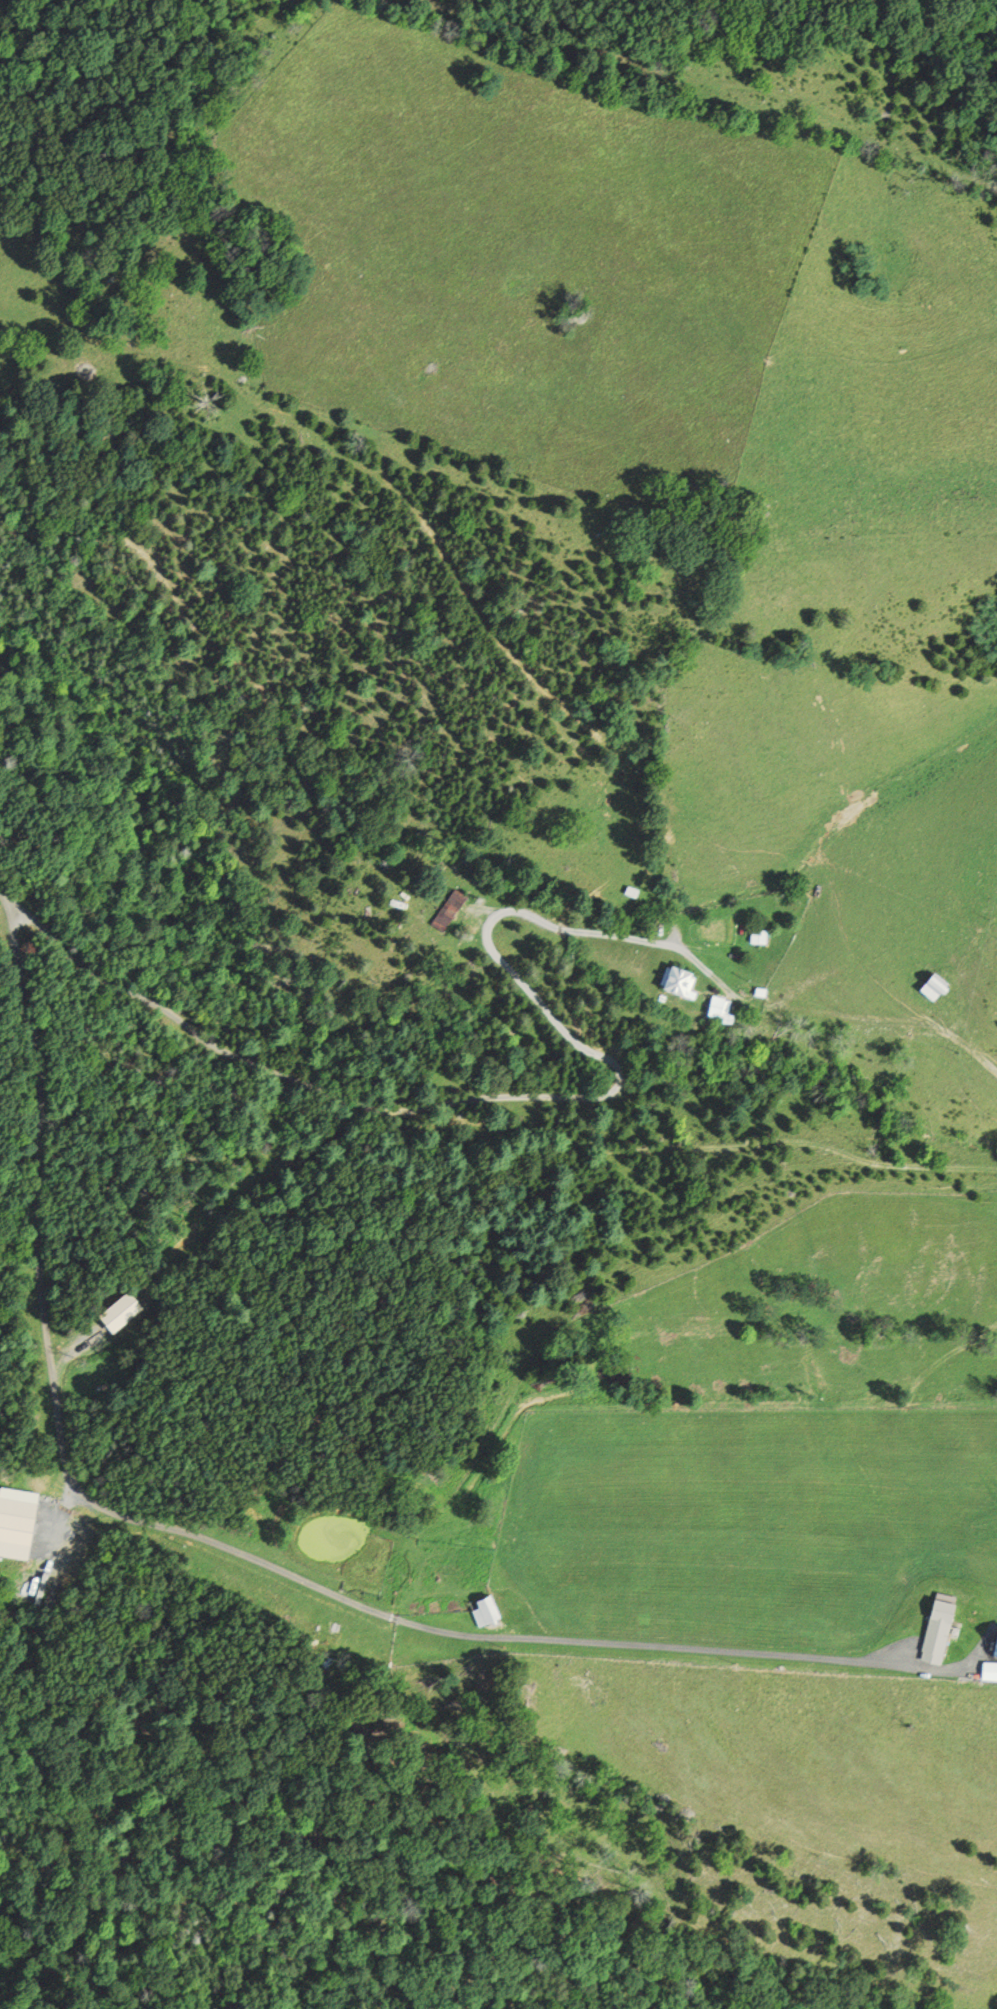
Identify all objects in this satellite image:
building: (448, 910)
building: (762, 937)
building: (671, 982)
building: (932, 987)
building: (760, 993)
building: (716, 1008)
road: (865, 1019)
road: (530, 1101)
building: (16, 1529)
road: (235, 1552)
building: (481, 1607)
building: (936, 1631)
building: (995, 1650)
building: (989, 1671)

